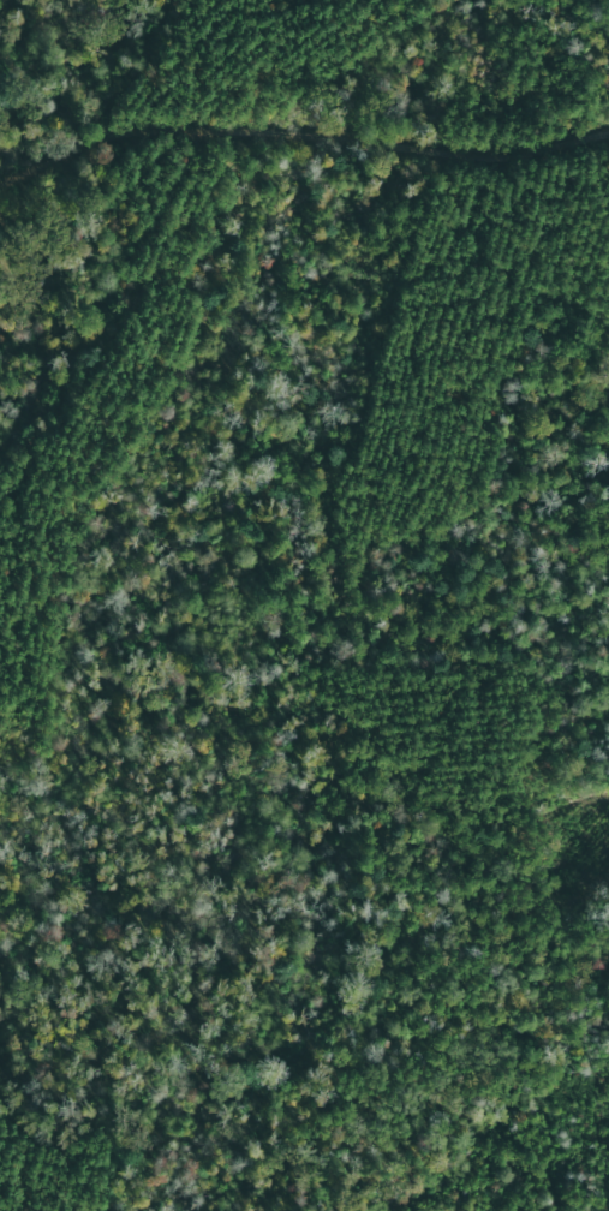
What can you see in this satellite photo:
road: (299, 119)

